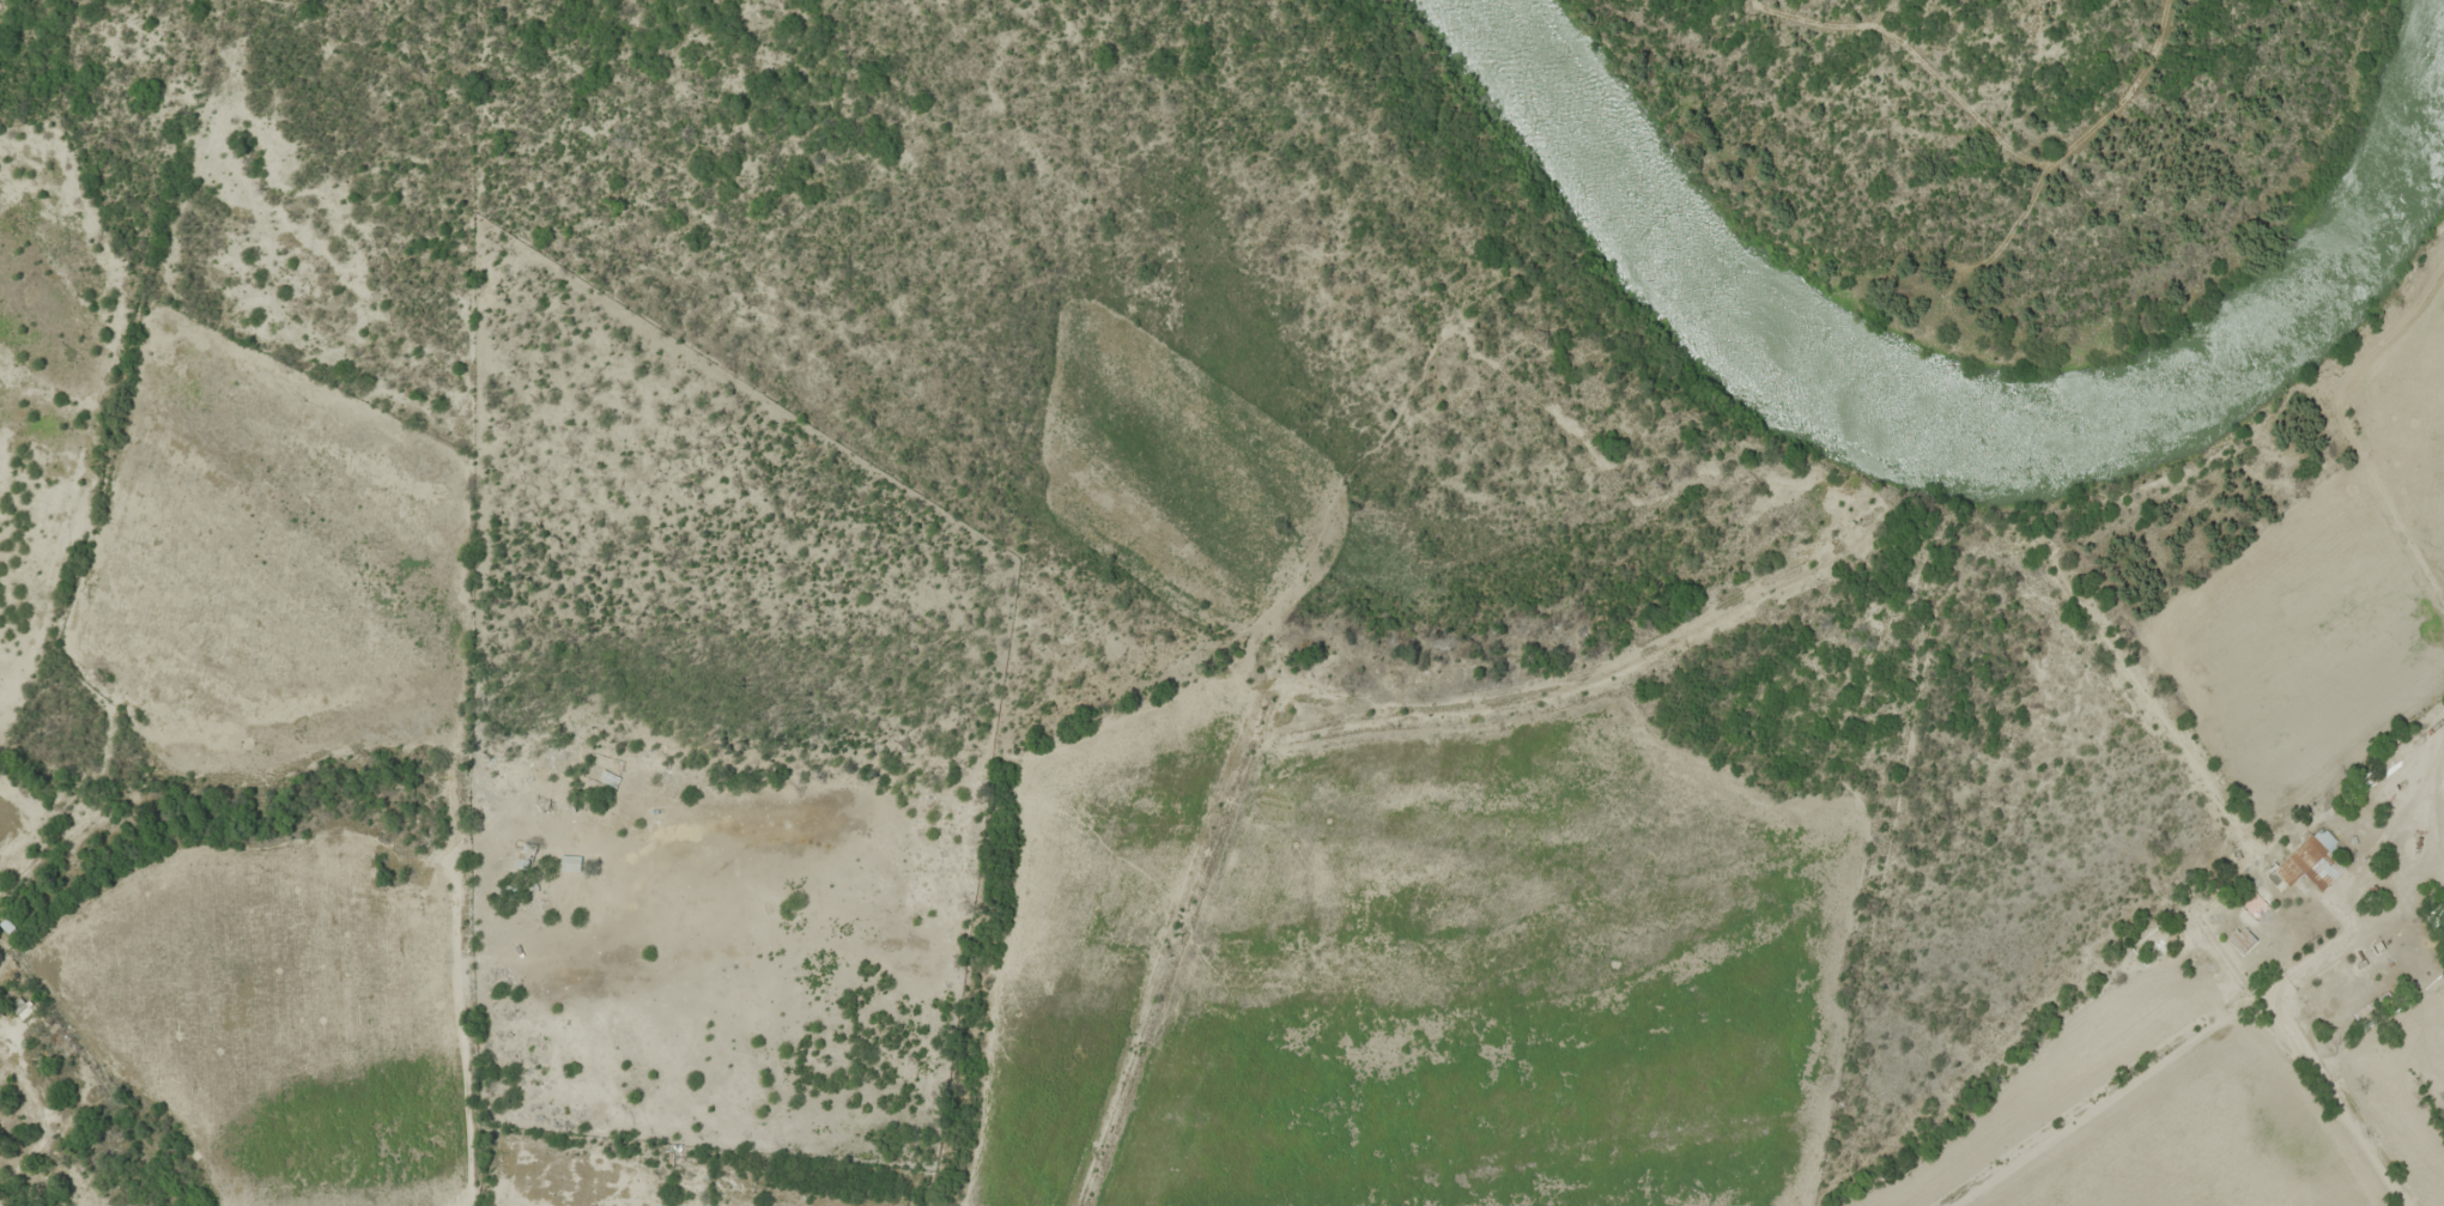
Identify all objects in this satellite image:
river: (1977, 434)
building: (2322, 863)
road: (2276, 1006)
road: (473, 1032)

